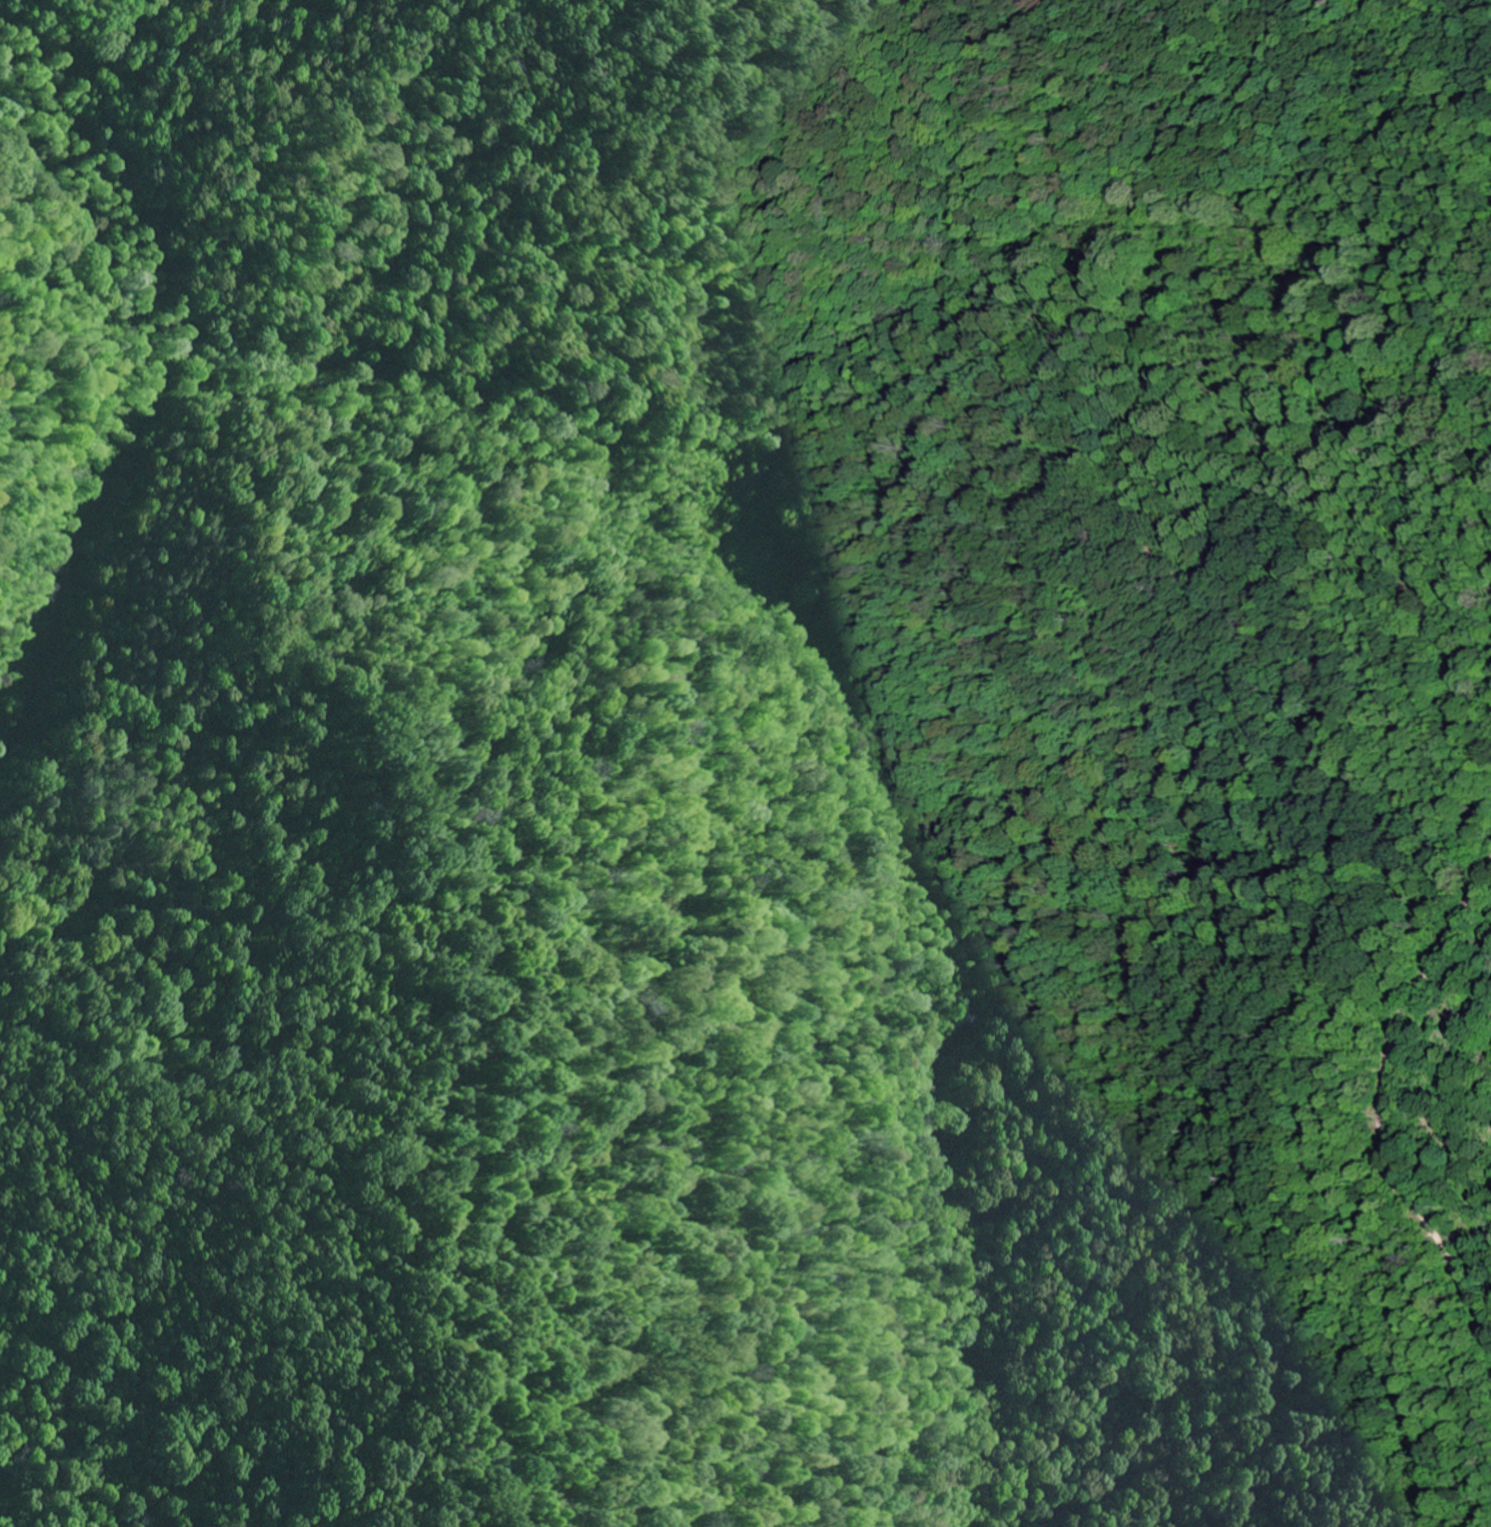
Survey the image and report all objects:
road: (1478, 895)
road: (1380, 1131)

